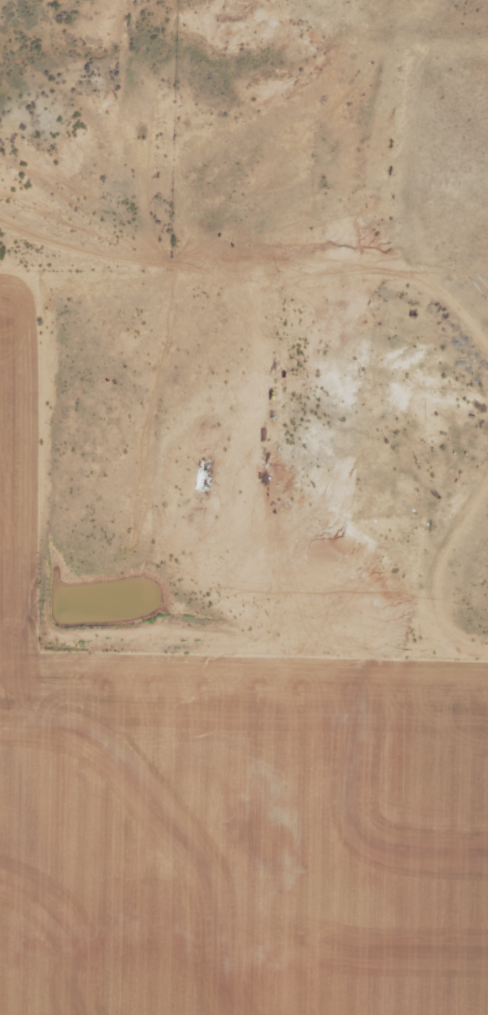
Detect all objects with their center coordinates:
road: (252, 253)
road: (439, 560)

